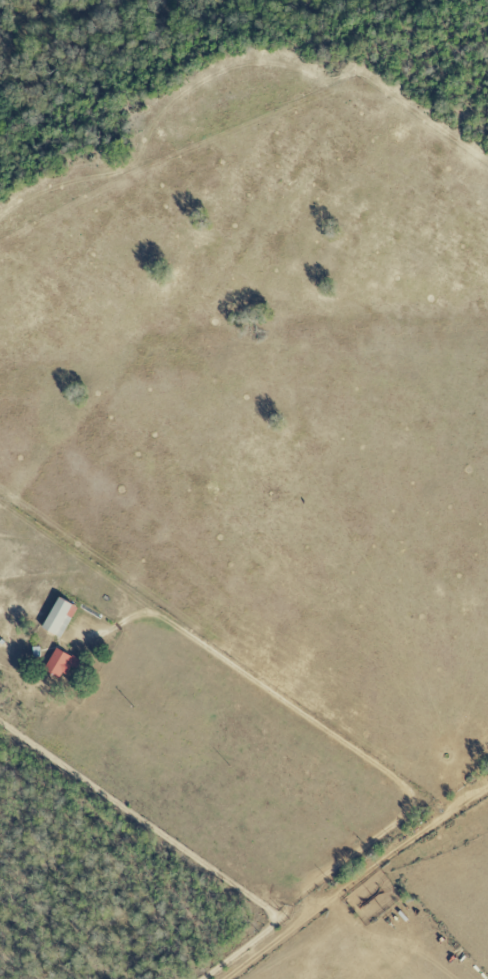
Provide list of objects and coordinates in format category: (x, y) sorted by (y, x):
building: (59, 616)
building: (59, 662)
road: (256, 680)
road: (139, 820)
road: (305, 884)

